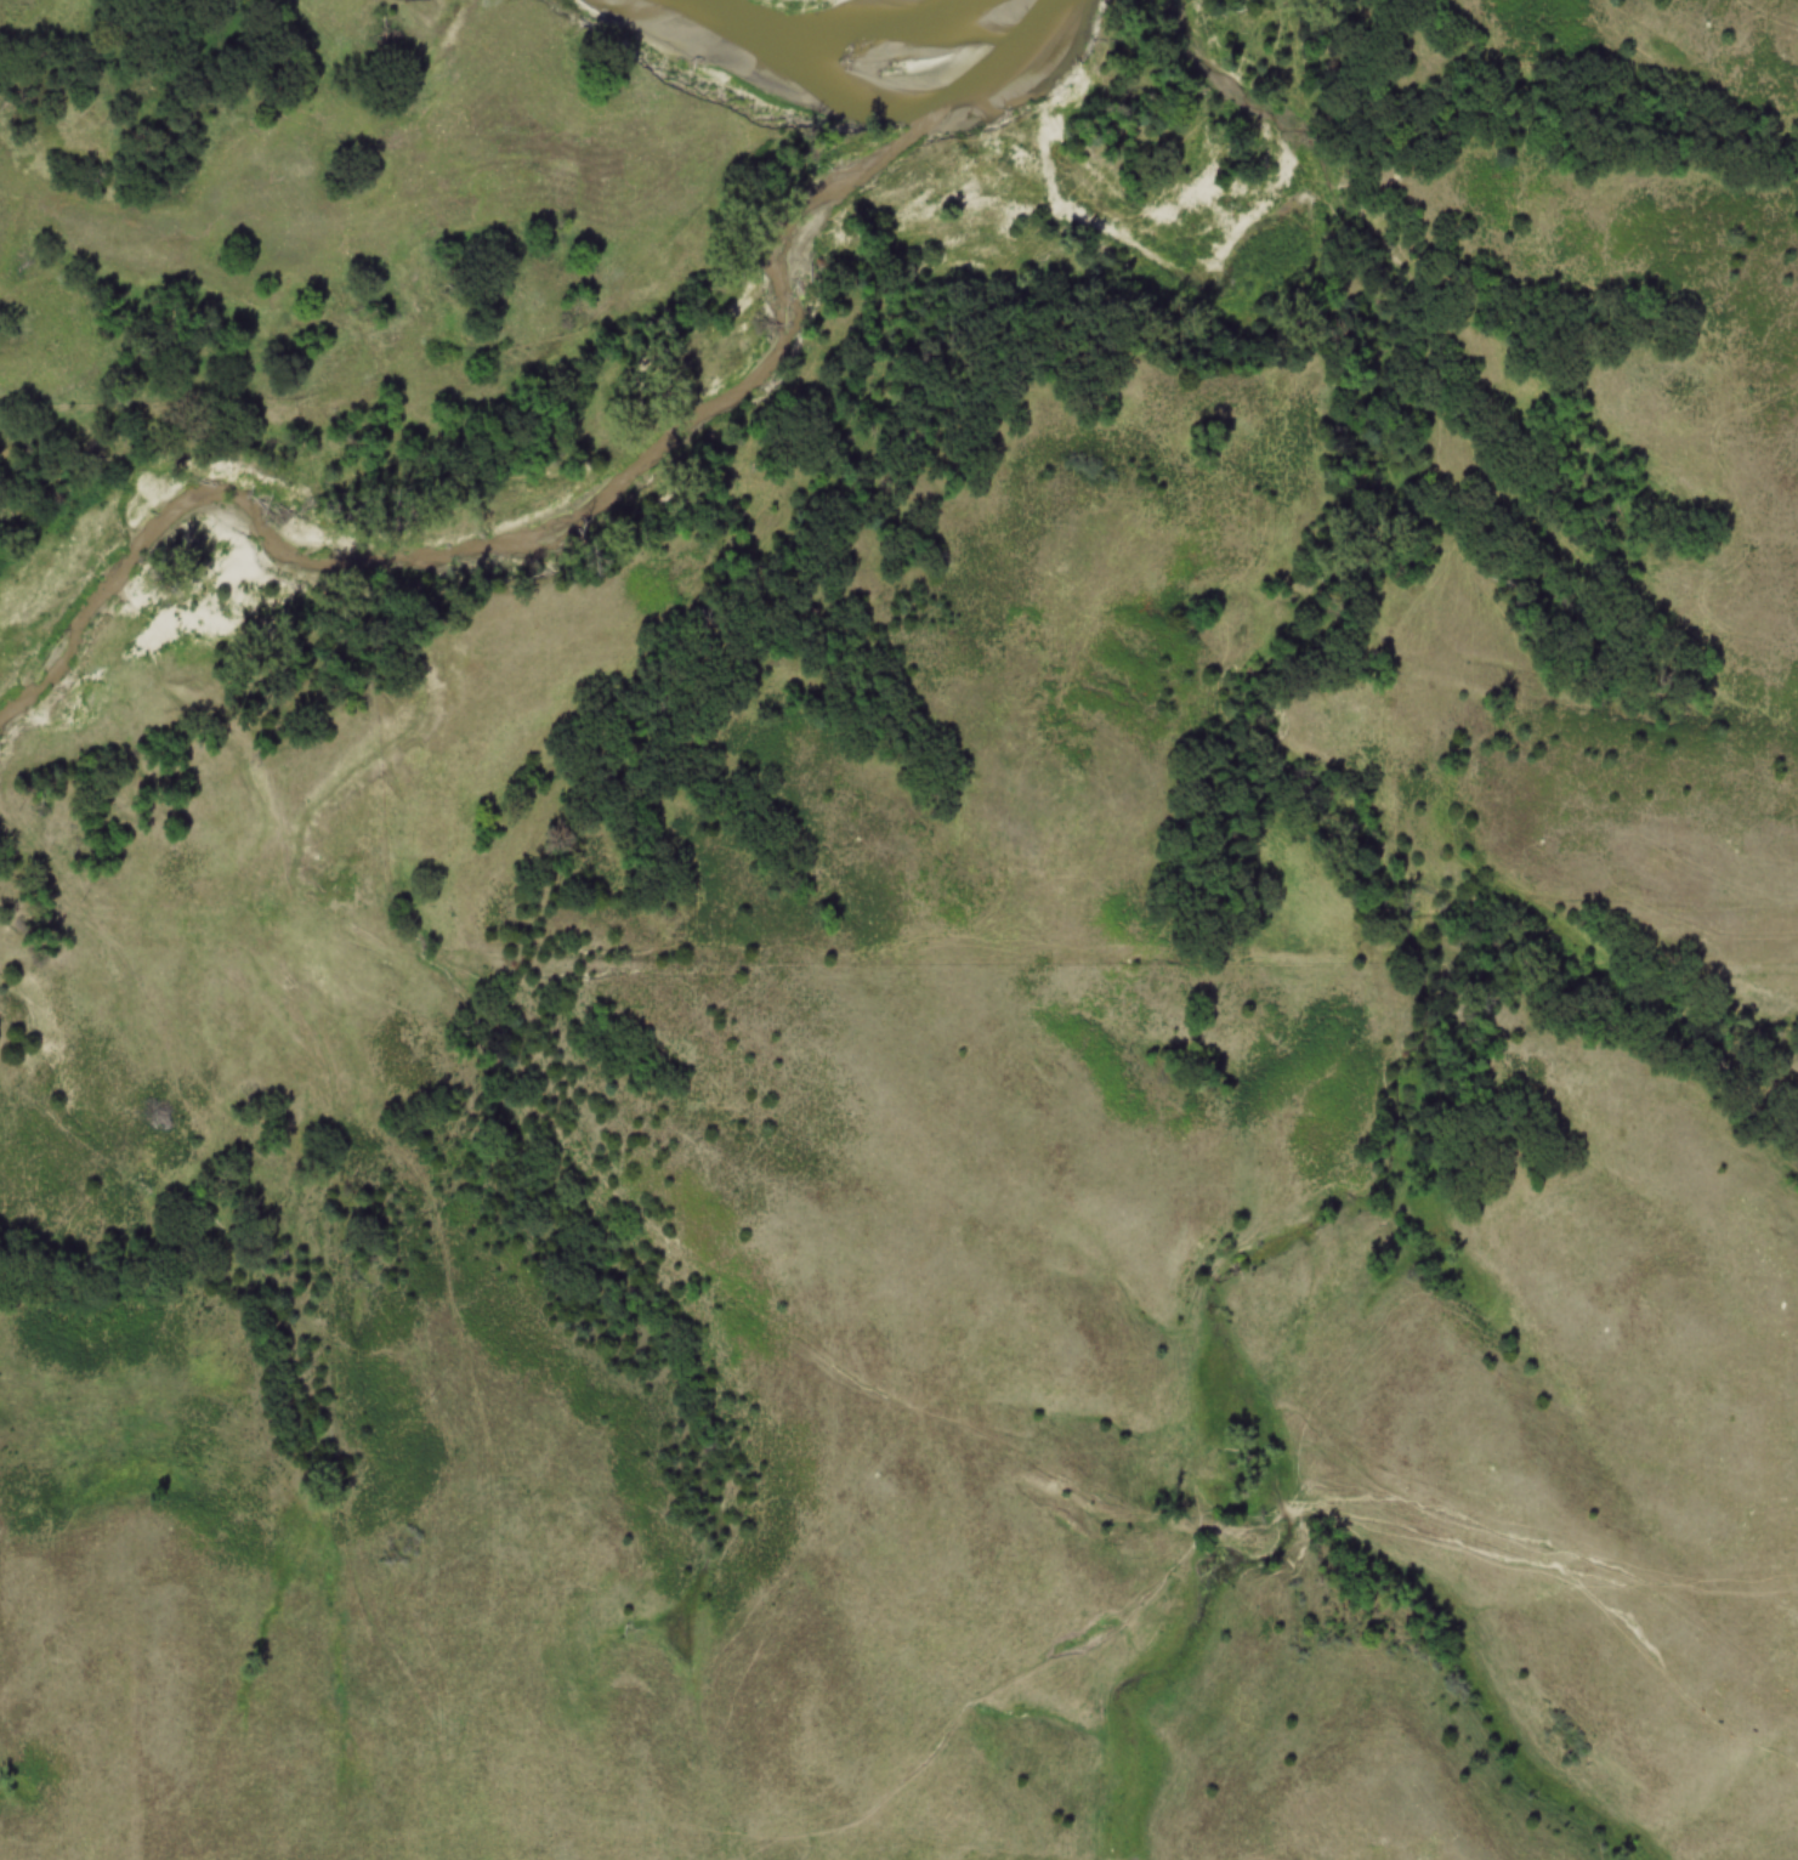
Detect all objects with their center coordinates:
river: (777, 66)
river: (784, 305)

